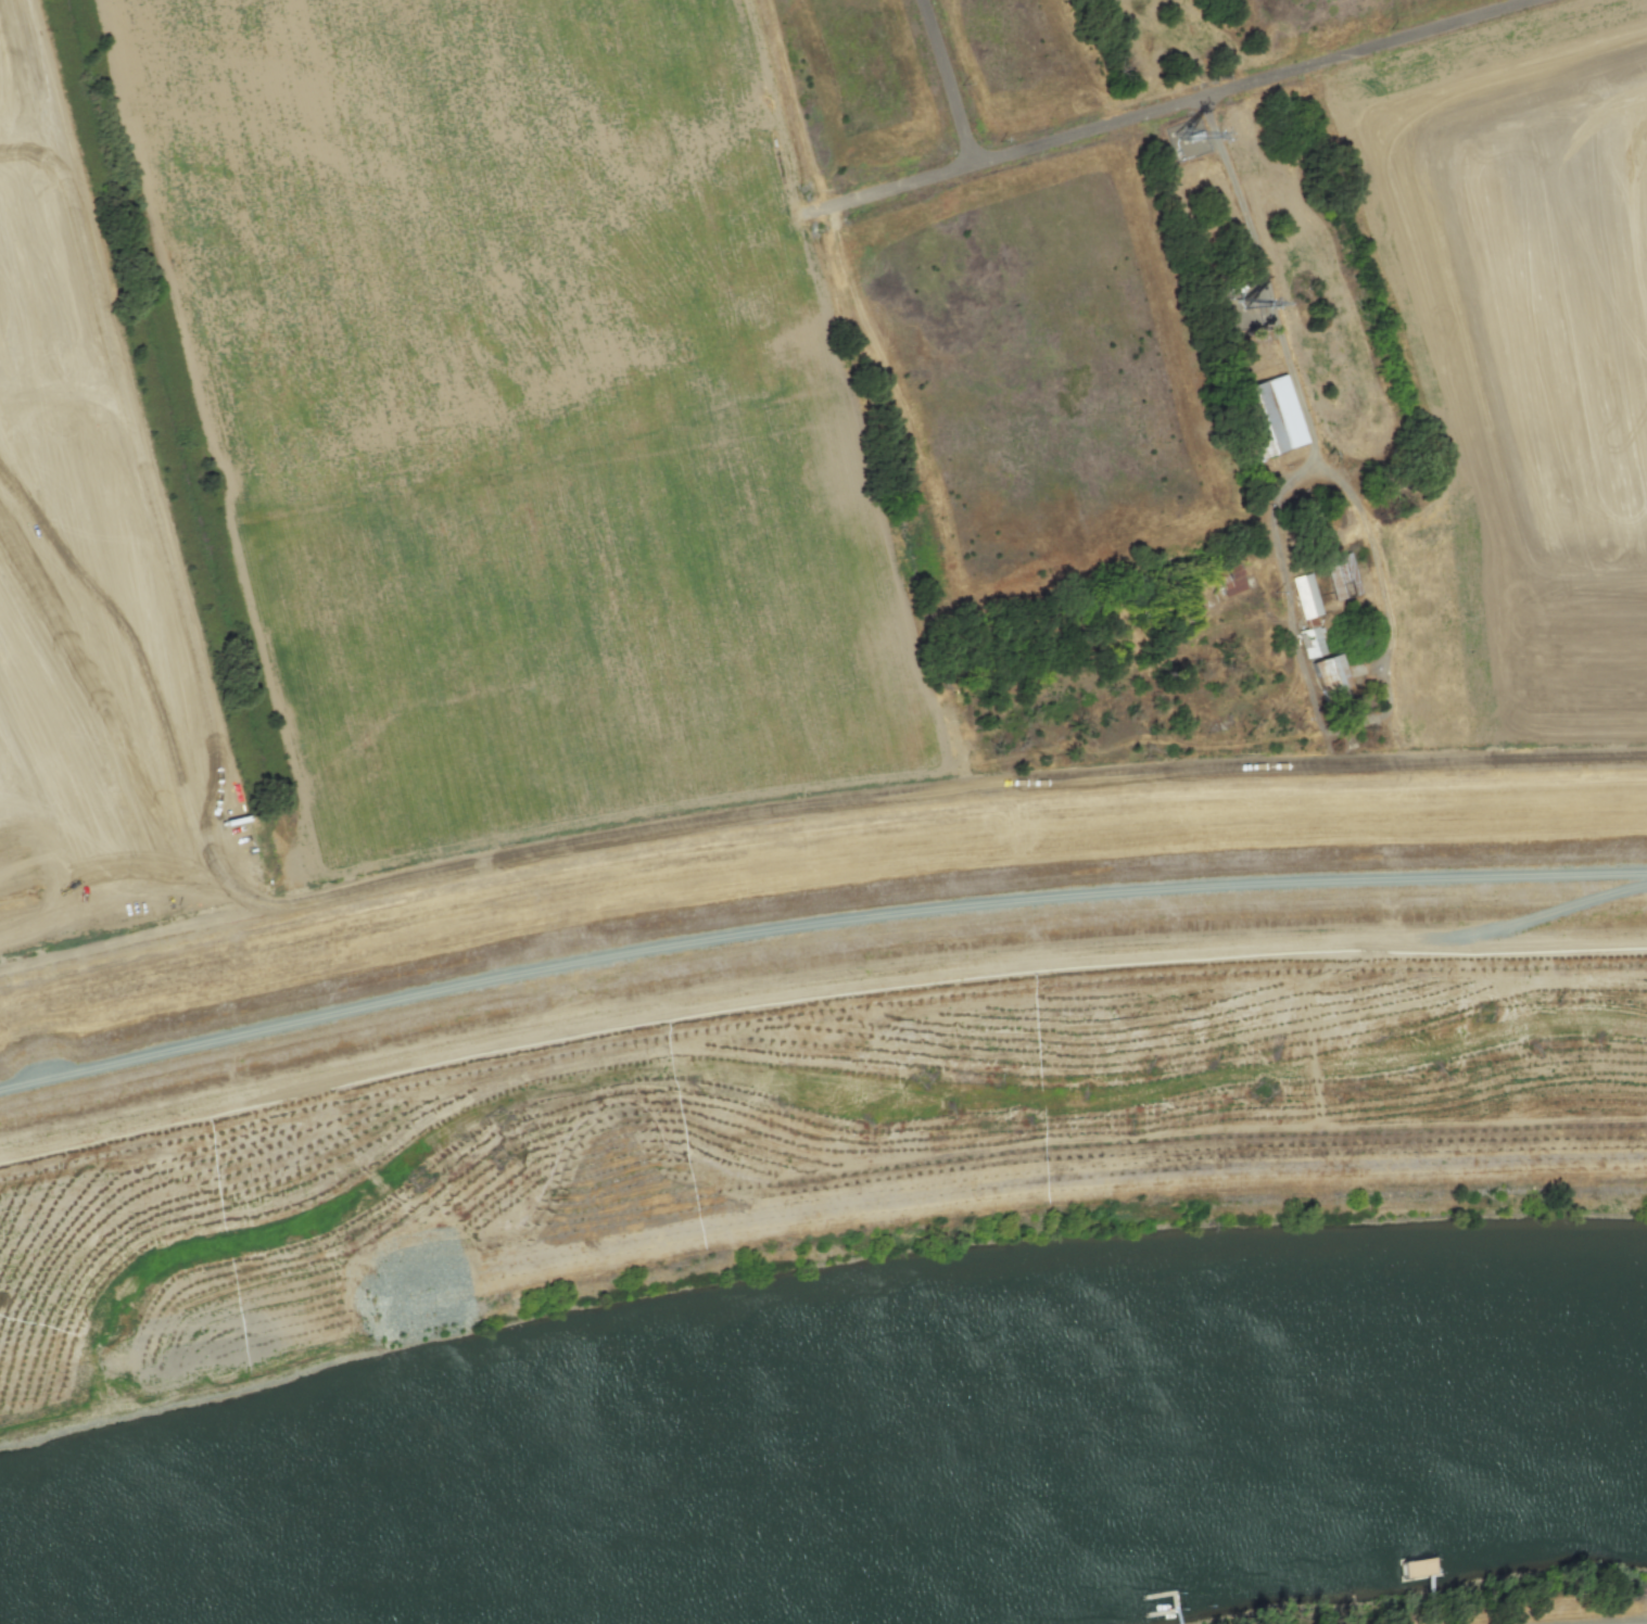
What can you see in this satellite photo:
road: (948, 80)
road: (1246, 80)
road: (890, 186)
road: (1265, 278)
building: (1228, 305)
building: (1270, 417)
building: (1341, 575)
building: (1229, 579)
road: (1283, 583)
road: (1381, 596)
crop: (89, 609)
building: (1307, 614)
building: (1332, 680)
road: (1055, 1176)
road: (236, 1333)
river: (937, 1439)

